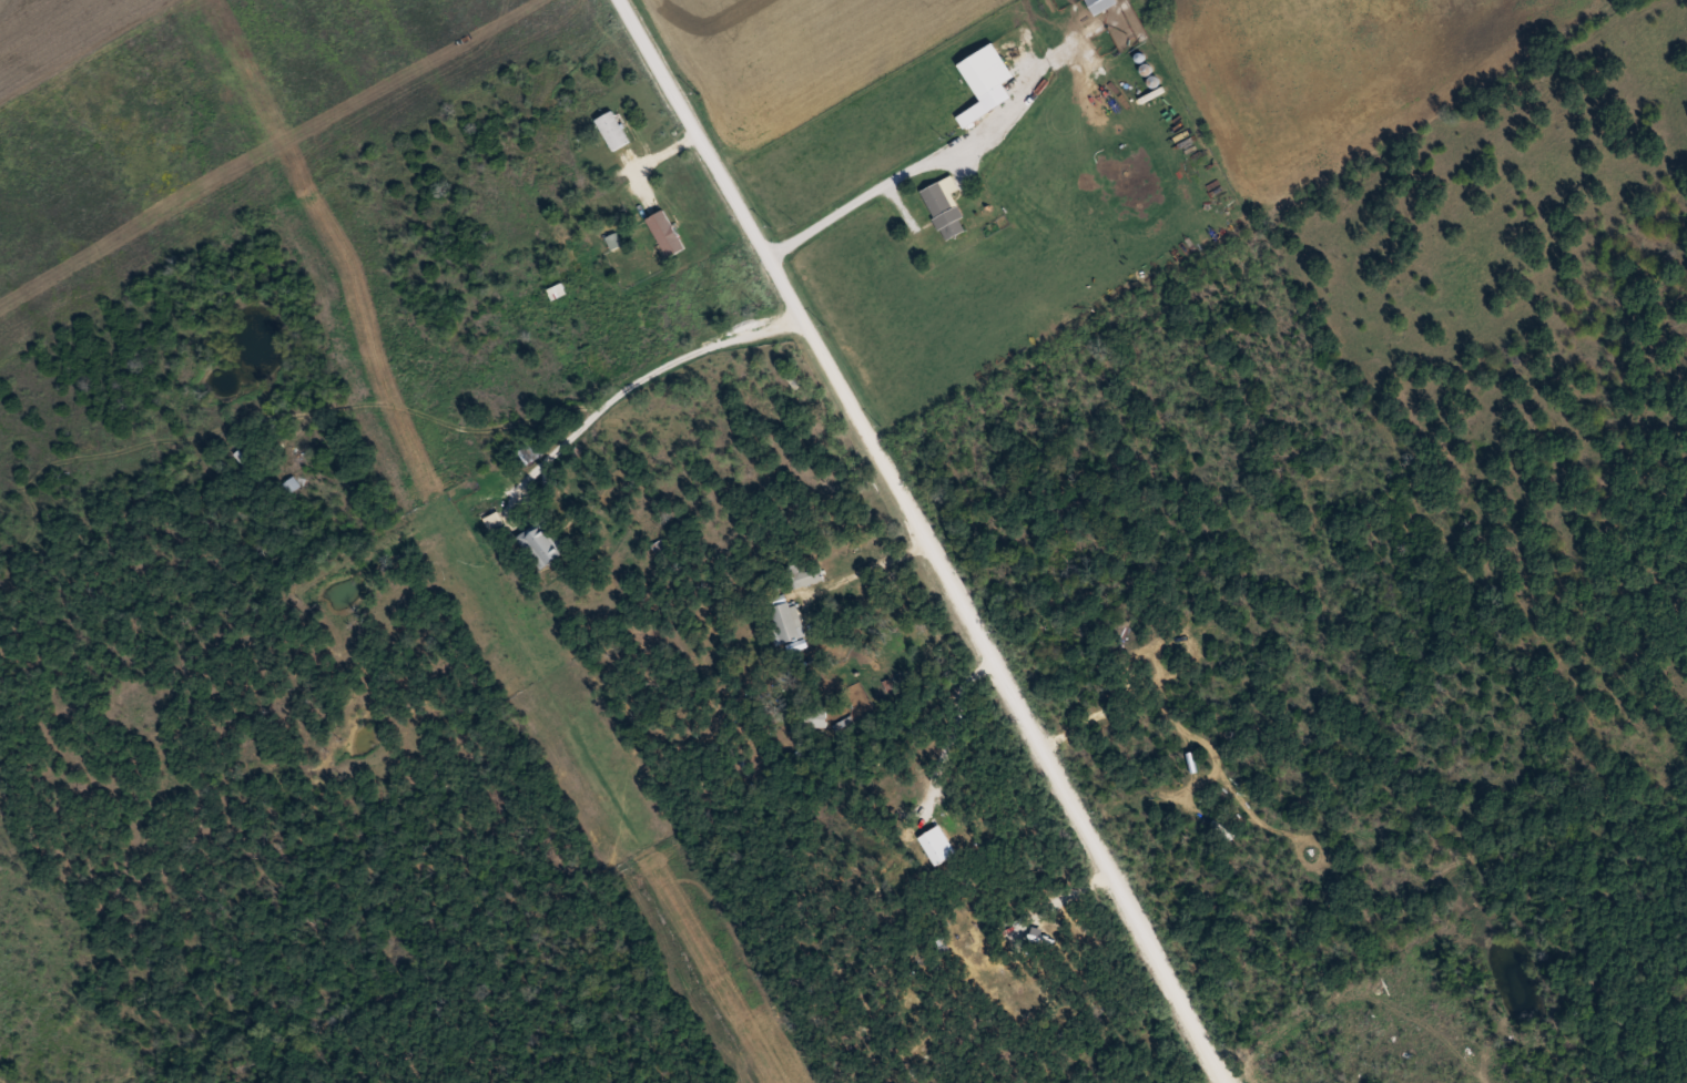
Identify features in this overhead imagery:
building: (1104, 4)
building: (989, 70)
building: (975, 115)
building: (614, 130)
road: (907, 168)
building: (947, 206)
building: (668, 232)
road: (642, 376)
road: (372, 402)
building: (248, 463)
building: (292, 483)
building: (496, 521)
road: (932, 540)
building: (543, 541)
road: (867, 569)
building: (786, 621)
building: (816, 715)
road: (953, 726)
building: (939, 844)
building: (1059, 921)
road: (1505, 1004)

